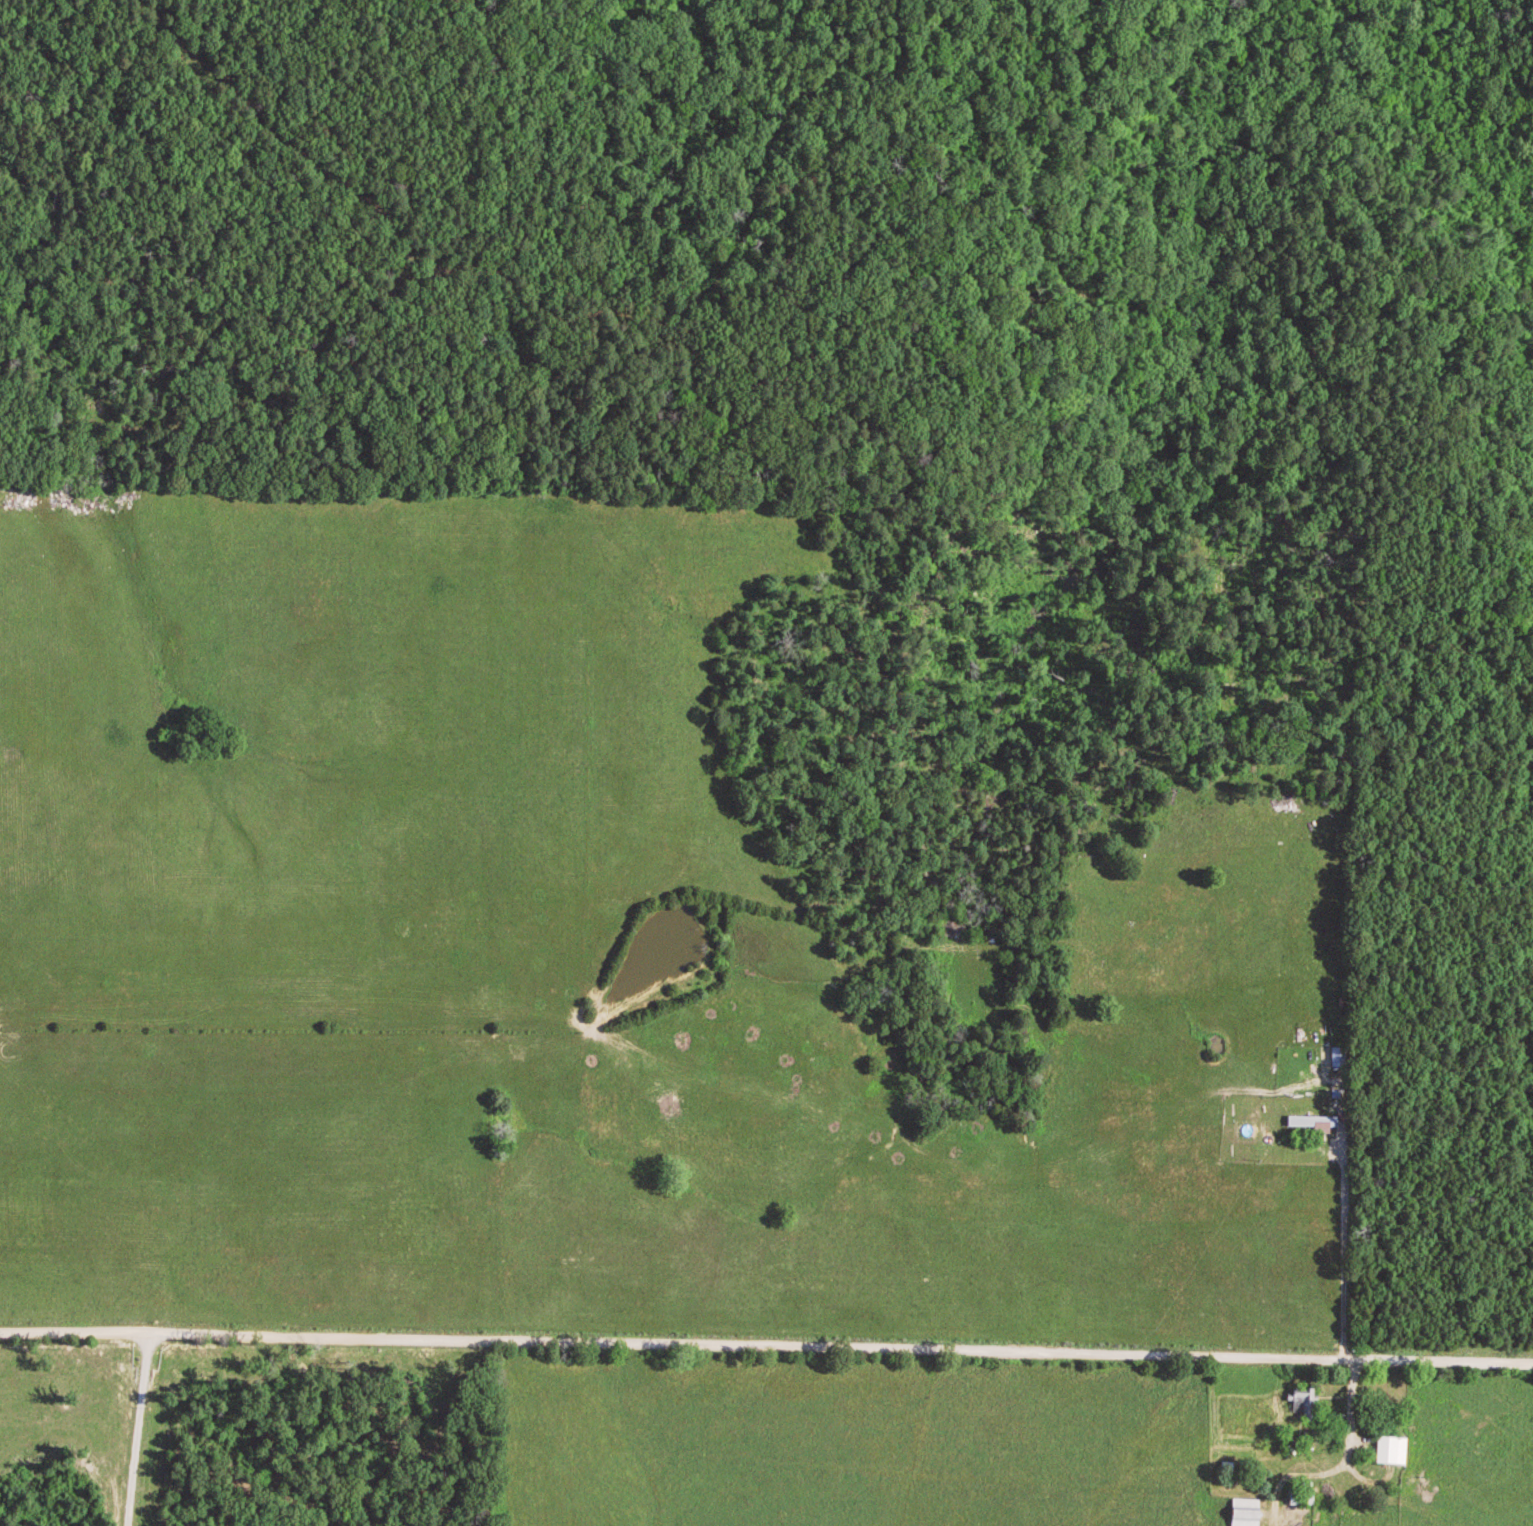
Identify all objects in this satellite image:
building: (1310, 1123)
road: (1337, 1220)
road: (766, 1344)
building: (1395, 1451)
road: (1335, 1465)

